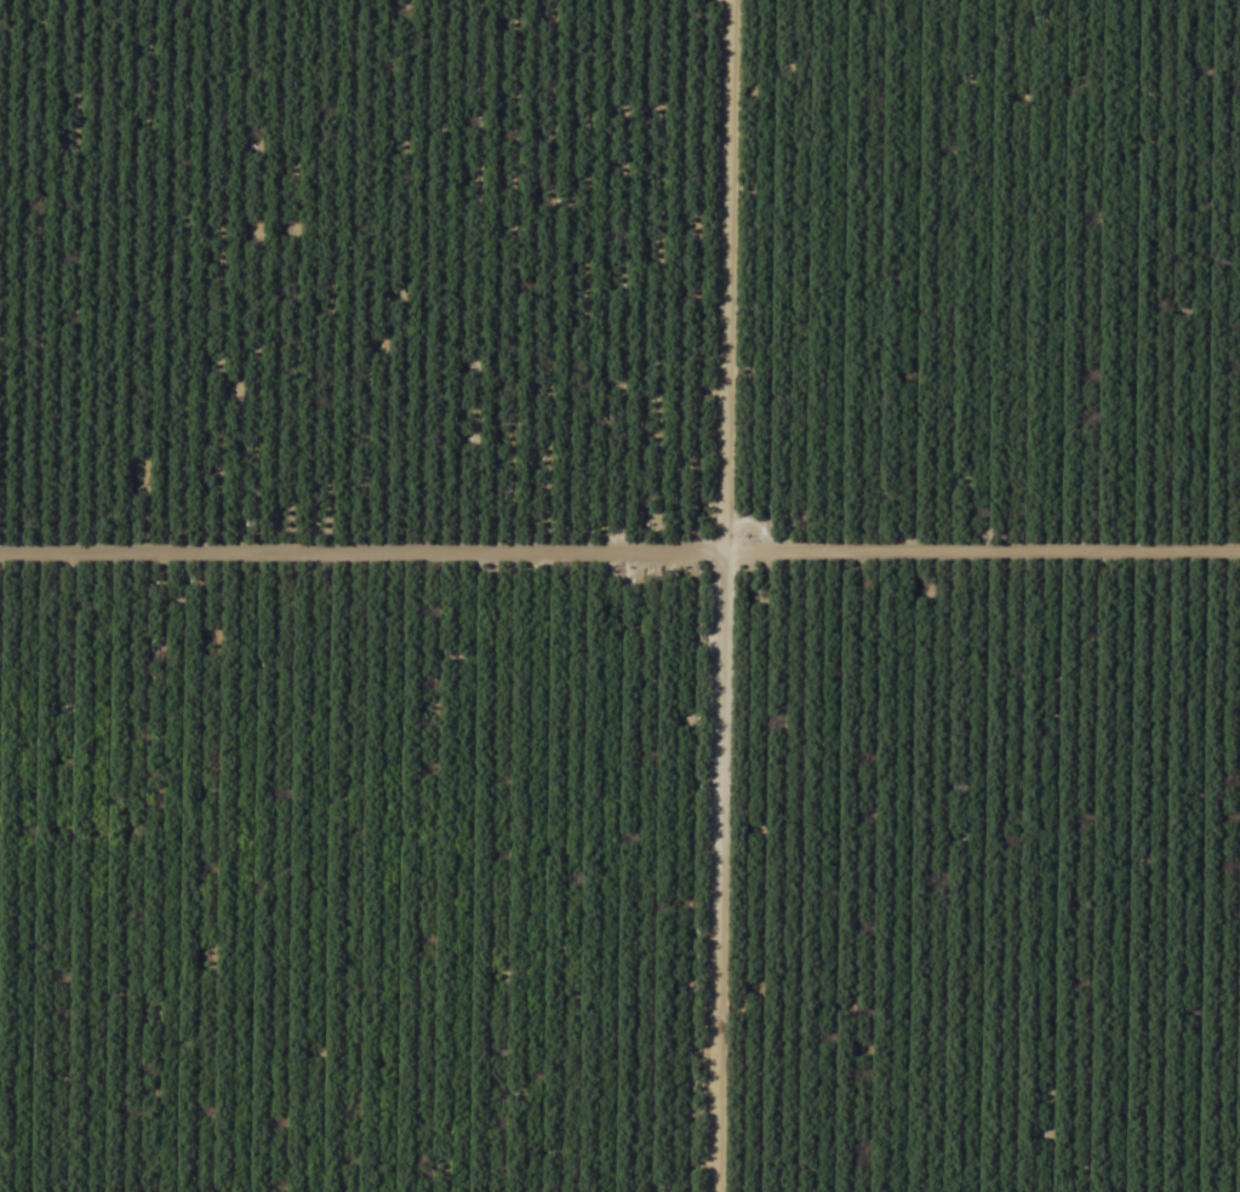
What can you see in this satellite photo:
road: (651, 280)
road: (619, 558)
road: (204, 595)
crop: (619, 596)

